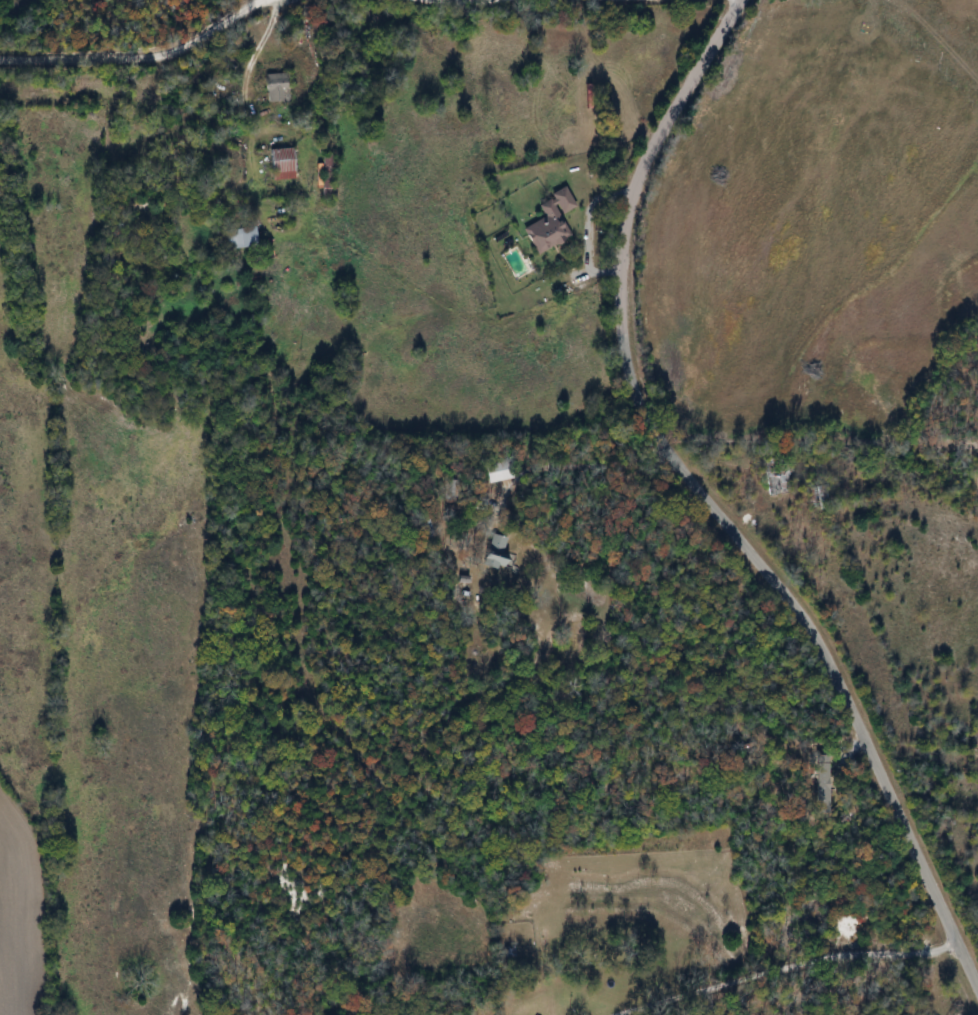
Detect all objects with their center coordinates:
road: (138, 57)
road: (247, 72)
building: (280, 87)
building: (286, 165)
building: (553, 222)
road: (587, 228)
building: (244, 238)
road: (709, 505)
road: (782, 969)

